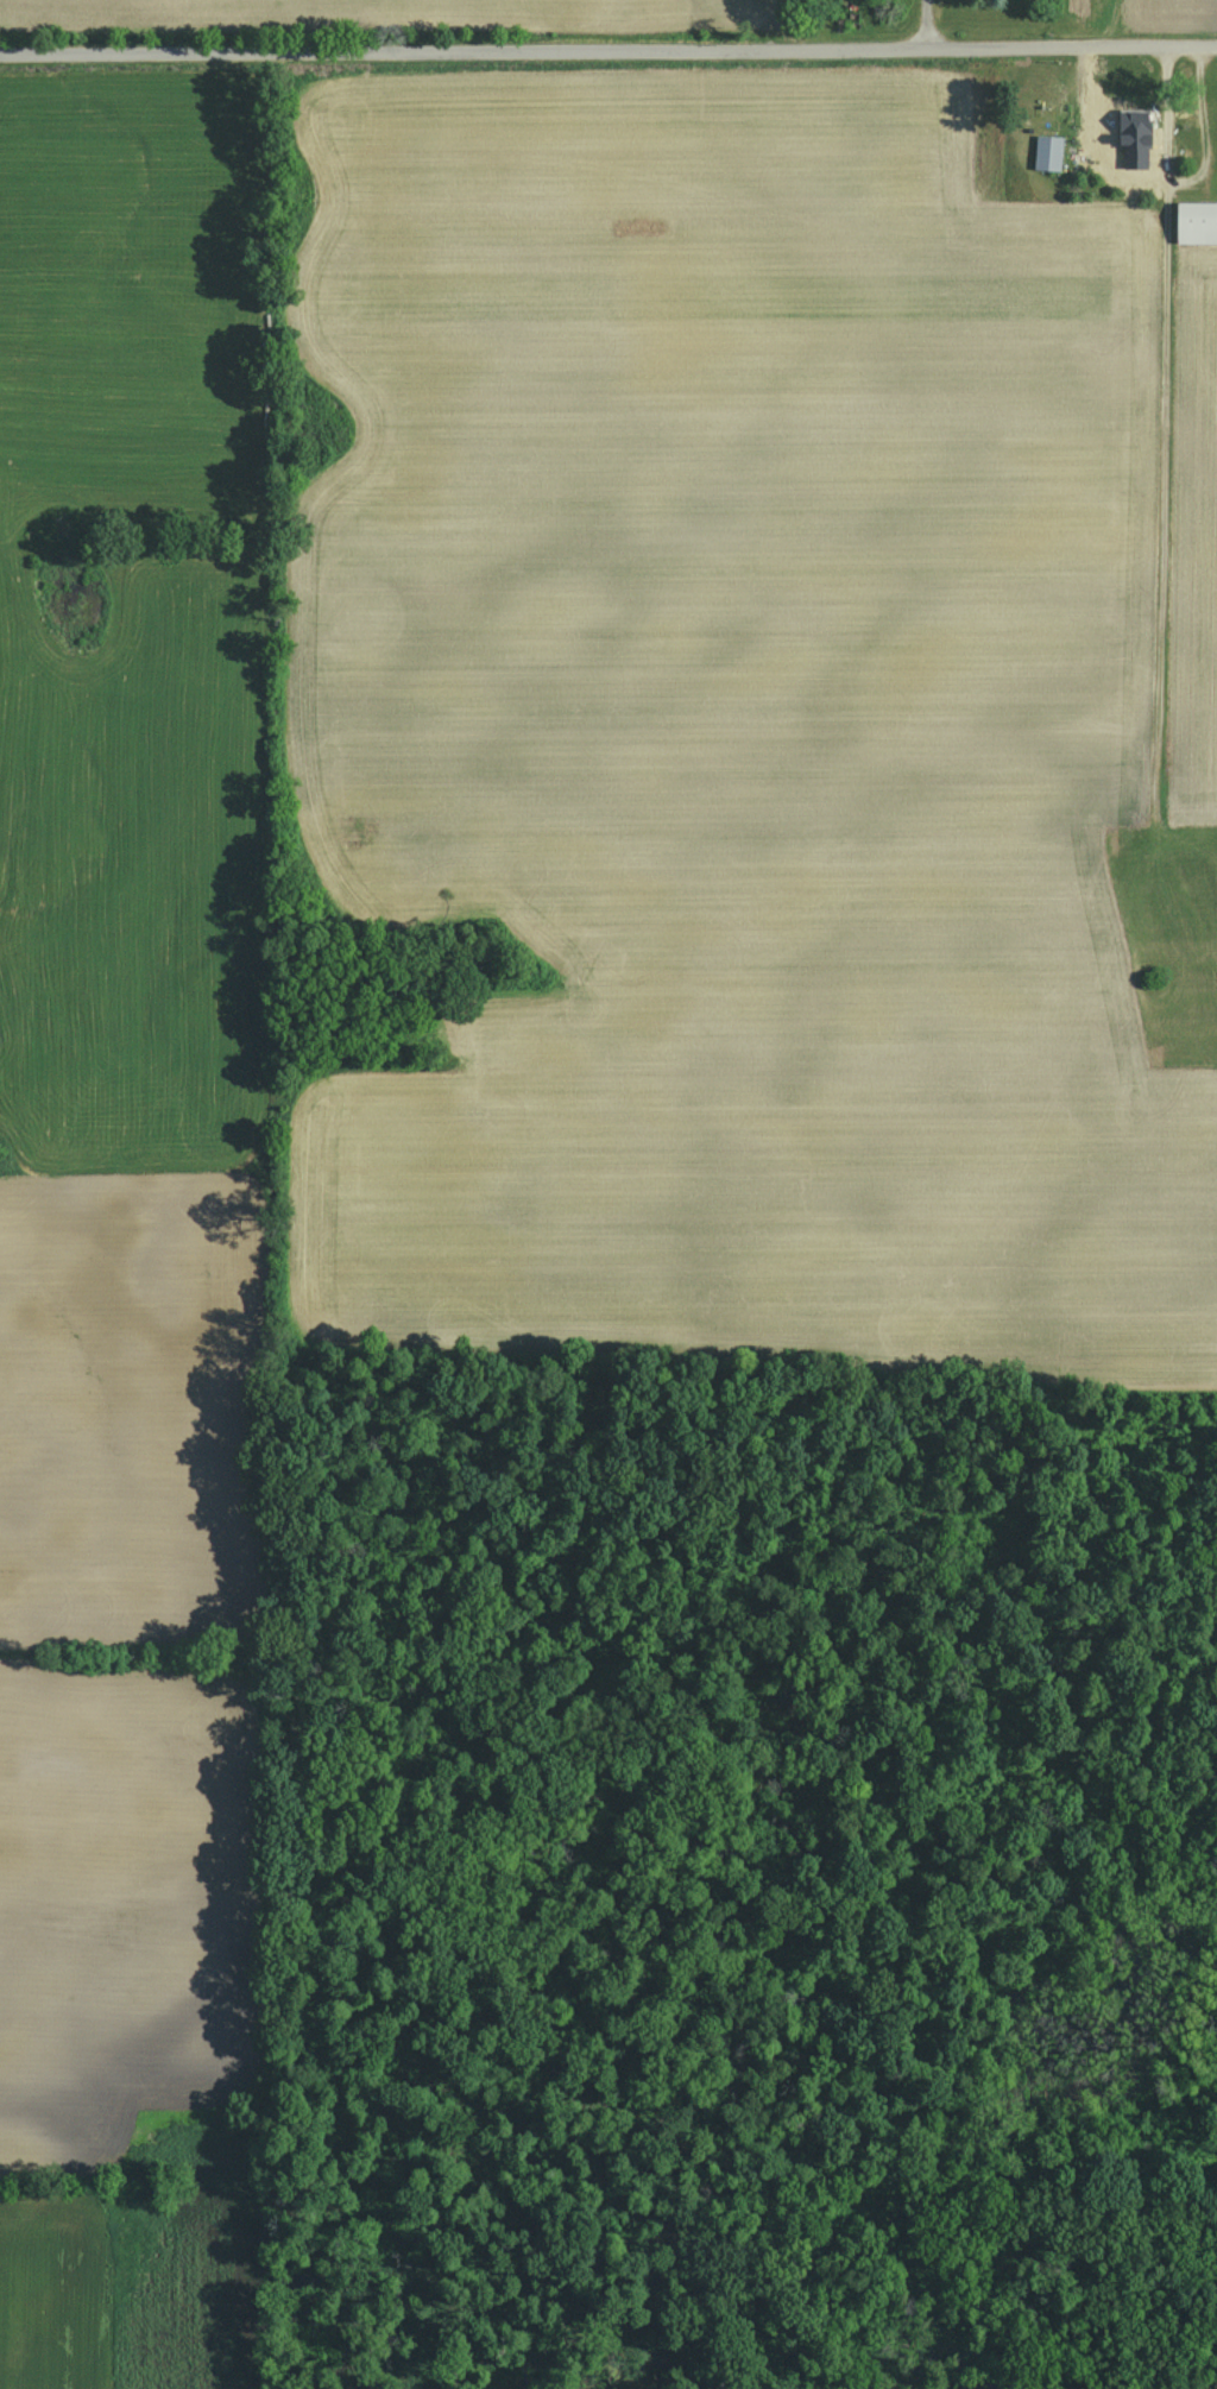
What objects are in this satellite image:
road: (931, 24)
road: (608, 46)
building: (1133, 126)
building: (1046, 151)
building: (1194, 221)
road: (1161, 401)

